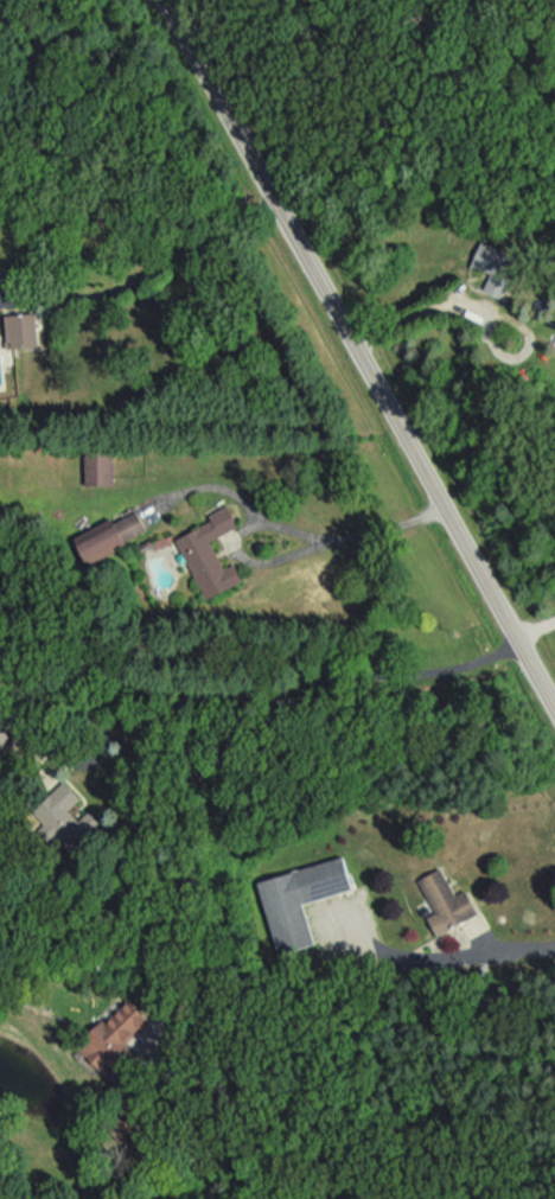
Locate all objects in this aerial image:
park: (9, 5)
park: (279, 88)
building: (490, 269)
road: (146, 272)
road: (442, 302)
building: (13, 331)
road: (361, 357)
building: (92, 468)
building: (127, 523)
road: (280, 523)
building: (199, 542)
building: (96, 543)
road: (525, 607)
road: (167, 680)
building: (64, 821)
building: (294, 901)
building: (438, 904)
road: (432, 937)
building: (104, 1034)
road: (139, 1070)
road: (211, 1181)

